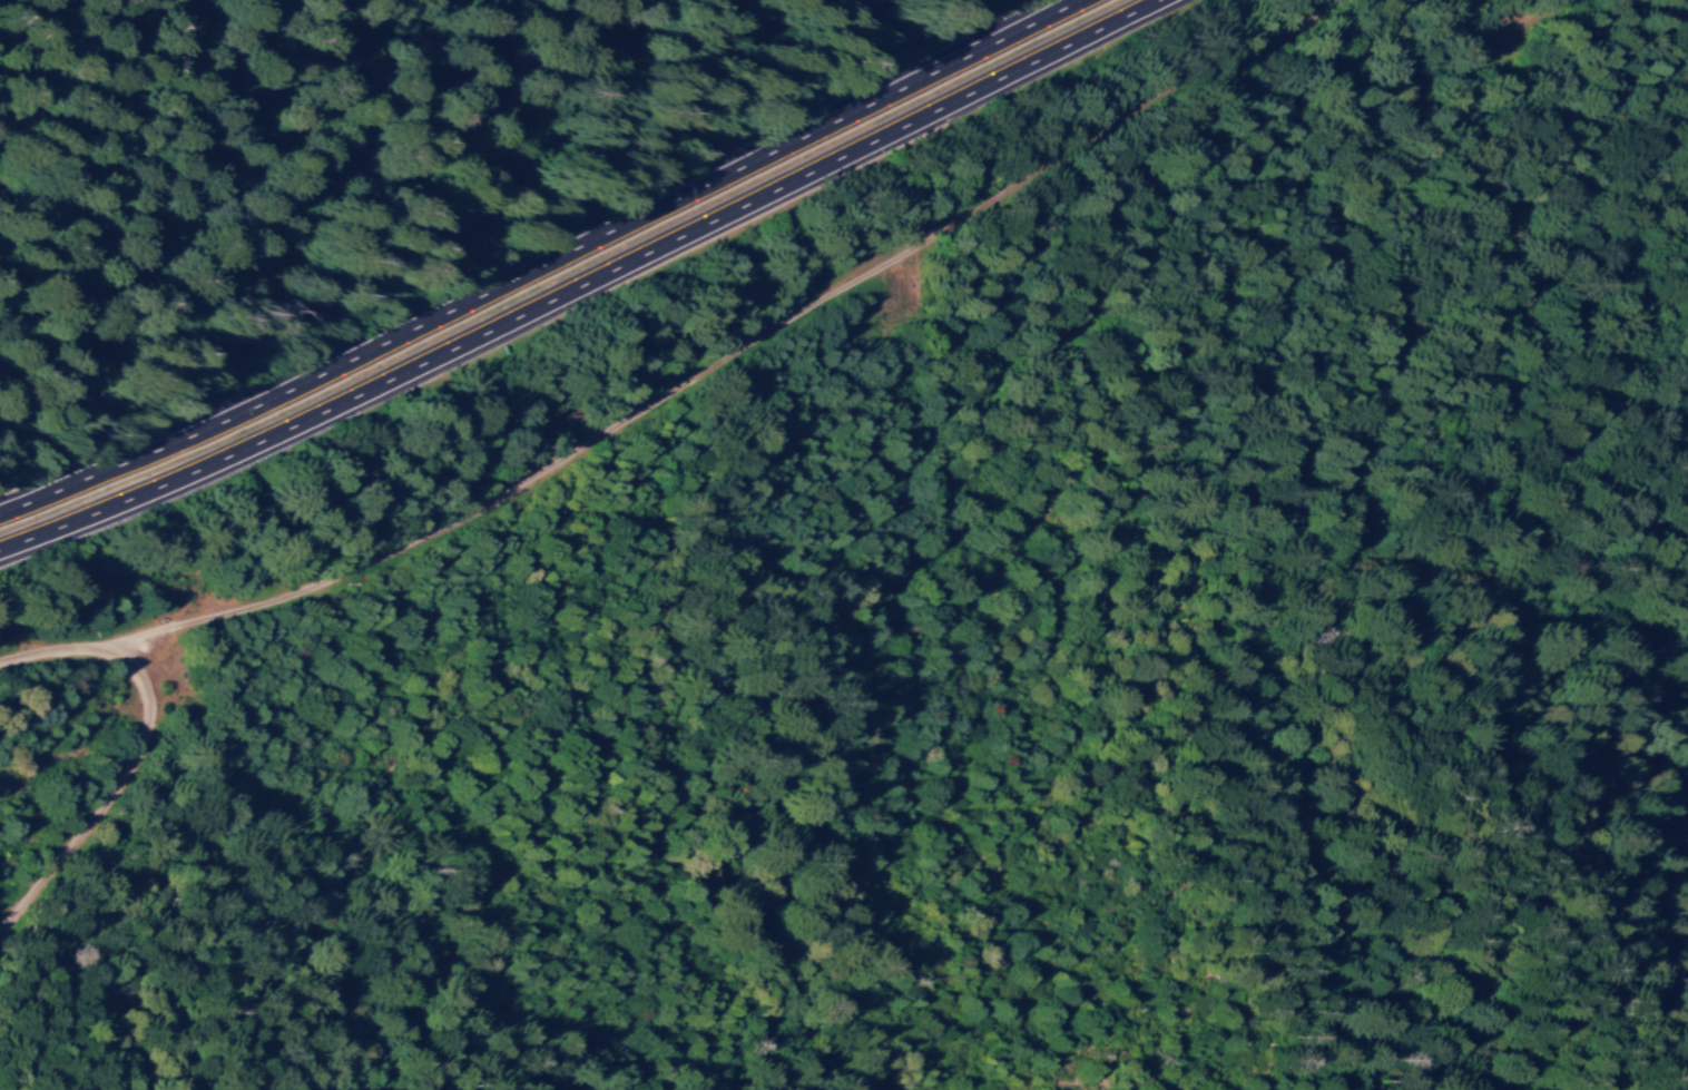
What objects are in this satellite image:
road: (547, 272)
road: (586, 288)
road: (686, 379)
road: (120, 795)

